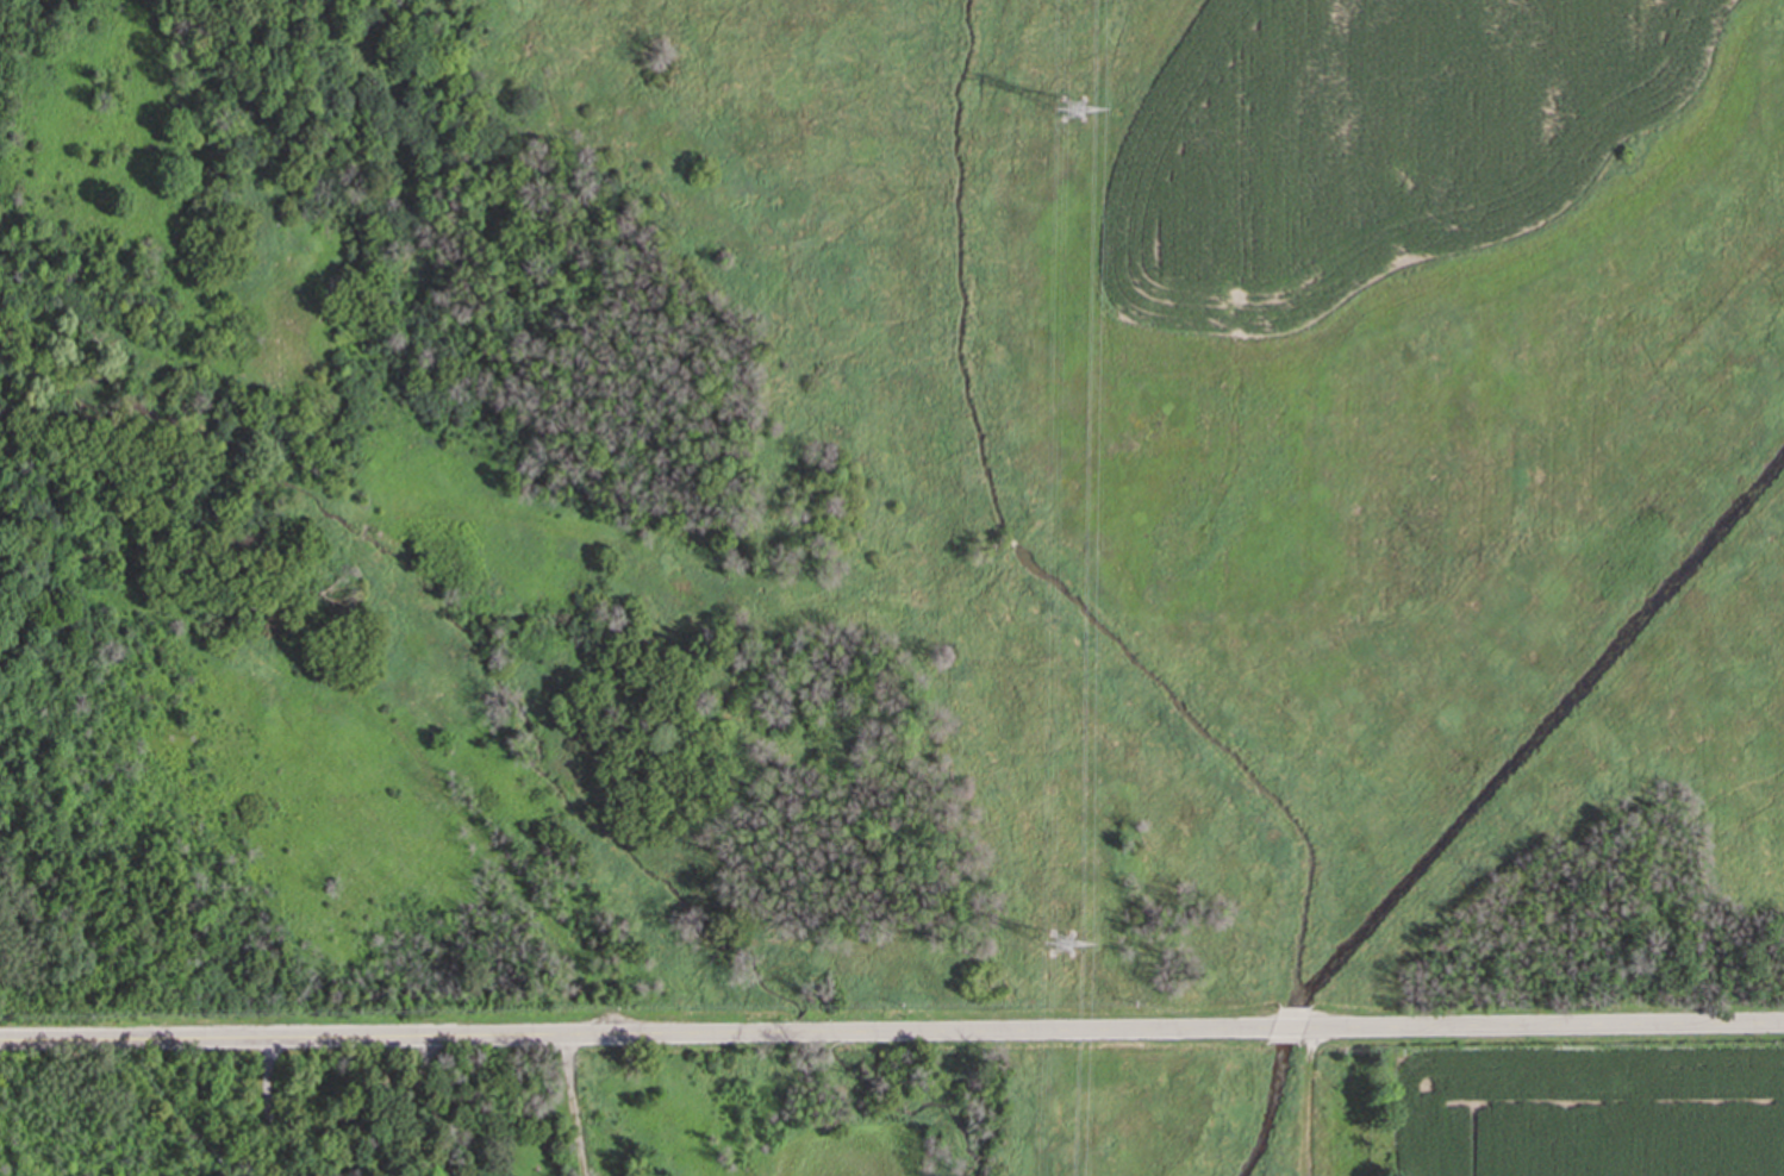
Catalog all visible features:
power tower: (1075, 111)
crop: (1378, 144)
quarry: (890, 511)
power tower: (1061, 949)
road: (1542, 1027)
road: (1285, 1031)
road: (634, 1036)
road: (412, 1106)
road: (574, 1107)
road: (269, 1108)
crop: (1585, 1111)
crop: (853, 1152)

